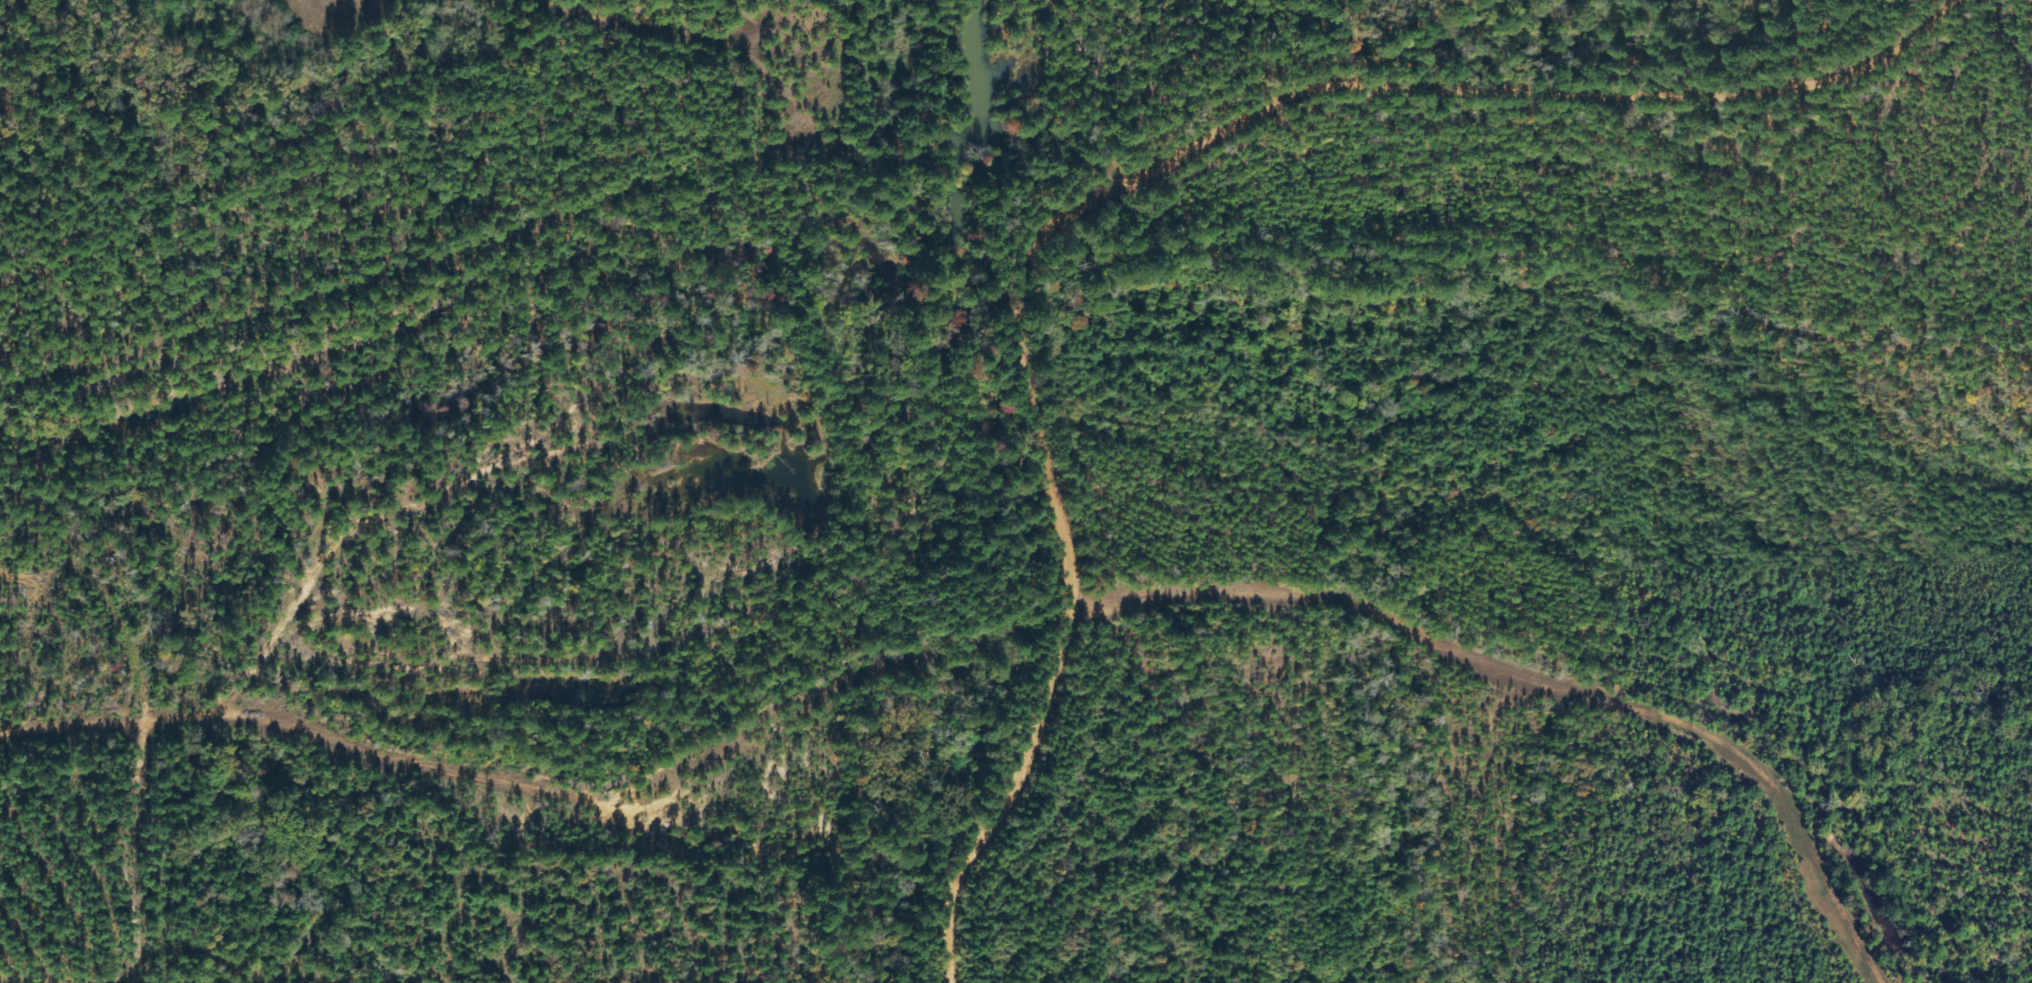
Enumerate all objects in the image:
road: (1132, 183)
road: (1130, 523)

